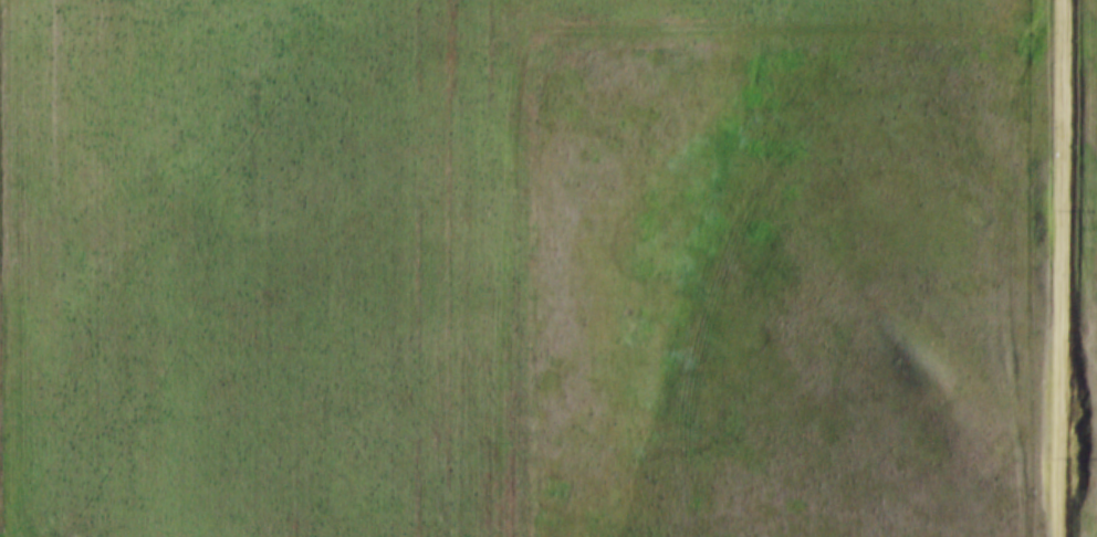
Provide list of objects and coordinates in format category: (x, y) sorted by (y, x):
road: (1066, 268)

